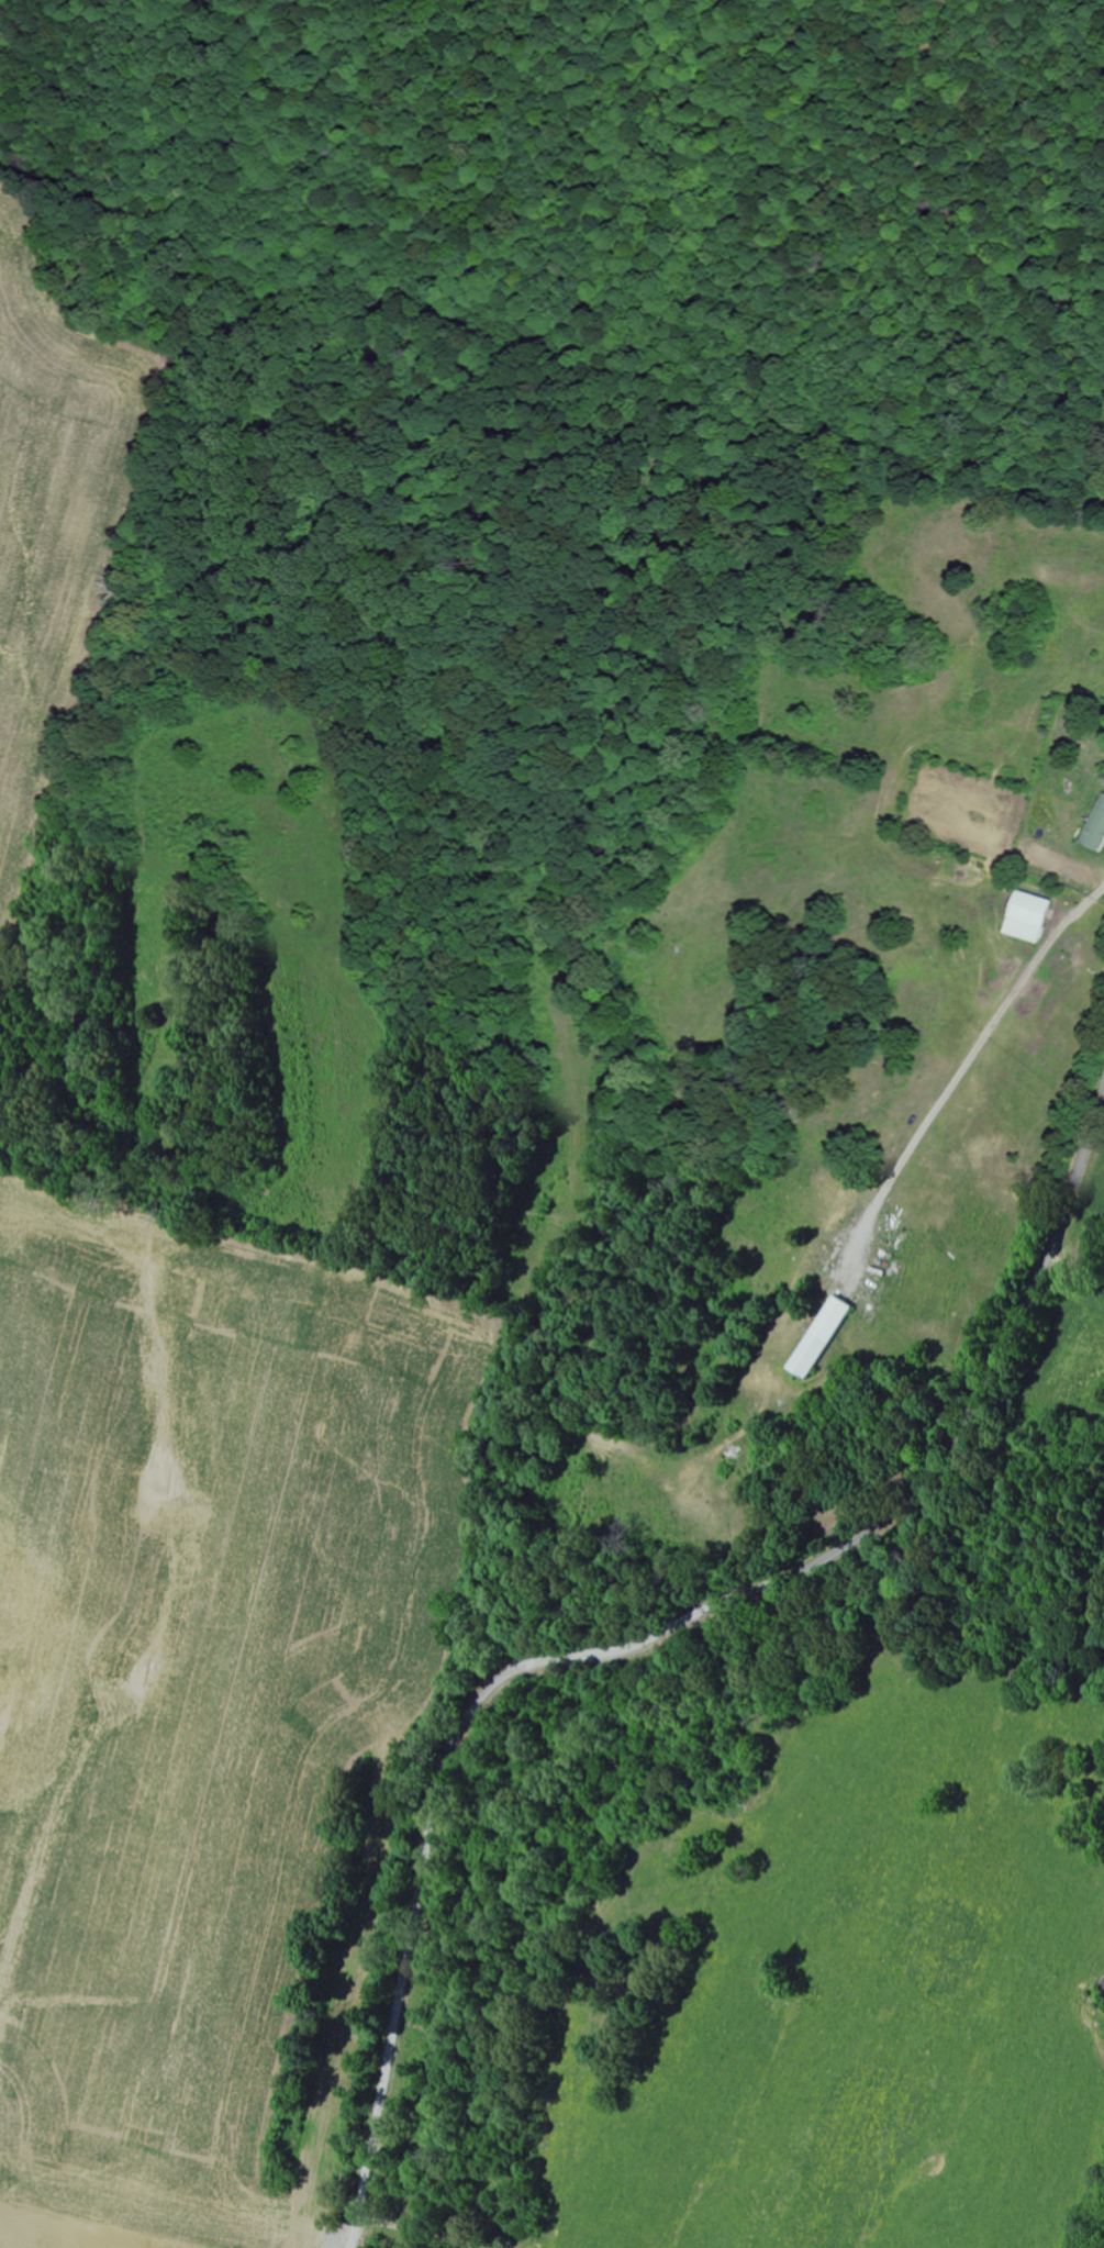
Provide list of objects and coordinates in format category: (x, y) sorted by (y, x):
building: (1094, 826)
building: (1022, 916)
building: (827, 1335)
road: (651, 1637)
road: (370, 2244)

